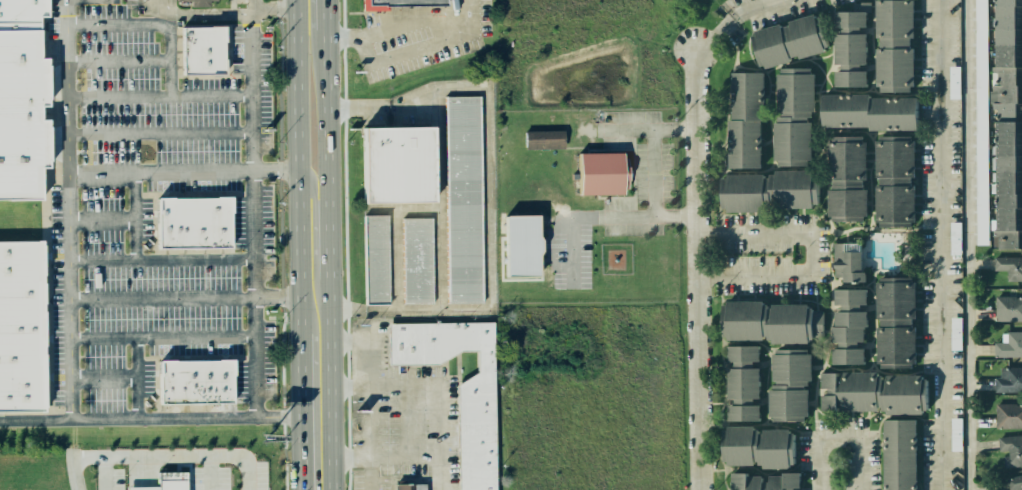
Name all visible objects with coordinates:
road: (79, 0)
building: (198, 2)
building: (395, 4)
road: (275, 10)
building: (26, 12)
road: (733, 16)
road: (202, 19)
building: (847, 20)
building: (893, 20)
road: (440, 23)
road: (147, 25)
building: (981, 30)
building: (1006, 33)
building: (786, 41)
building: (199, 48)
building: (847, 49)
road: (116, 62)
building: (893, 66)
building: (848, 77)
building: (955, 83)
building: (790, 90)
building: (1005, 92)
building: (742, 93)
road: (156, 97)
building: (841, 111)
building: (17, 113)
building: (892, 113)
road: (675, 128)
road: (654, 131)
road: (157, 133)
building: (542, 139)
building: (790, 141)
building: (741, 144)
building: (398, 165)
road: (181, 171)
building: (982, 172)
building: (597, 174)
building: (843, 181)
building: (891, 181)
building: (1004, 185)
building: (793, 189)
building: (740, 191)
road: (314, 197)
building: (464, 199)
road: (65, 210)
road: (133, 216)
road: (250, 217)
road: (607, 217)
road: (100, 220)
building: (189, 226)
road: (330, 244)
road: (299, 245)
building: (521, 245)
road: (942, 245)
road: (969, 245)
road: (811, 252)
building: (377, 259)
building: (418, 259)
road: (158, 261)
building: (846, 261)
building: (1010, 267)
road: (696, 270)
building: (847, 298)
road: (183, 299)
building: (1008, 309)
building: (848, 315)
building: (738, 320)
building: (892, 320)
building: (786, 322)
building: (19, 324)
building: (843, 333)
road: (159, 338)
building: (1009, 347)
building: (741, 355)
building: (844, 356)
building: (785, 367)
road: (102, 379)
road: (136, 379)
building: (193, 381)
road: (440, 382)
building: (1009, 383)
building: (741, 384)
building: (455, 390)
building: (899, 393)
building: (859, 394)
building: (785, 405)
building: (741, 412)
building: (1009, 416)
road: (151, 419)
road: (370, 436)
road: (842, 440)
building: (740, 449)
building: (777, 449)
building: (1011, 451)
building: (898, 454)
road: (161, 456)
road: (351, 460)
building: (173, 481)
building: (745, 483)
building: (784, 483)
building: (1015, 483)
building: (406, 486)

